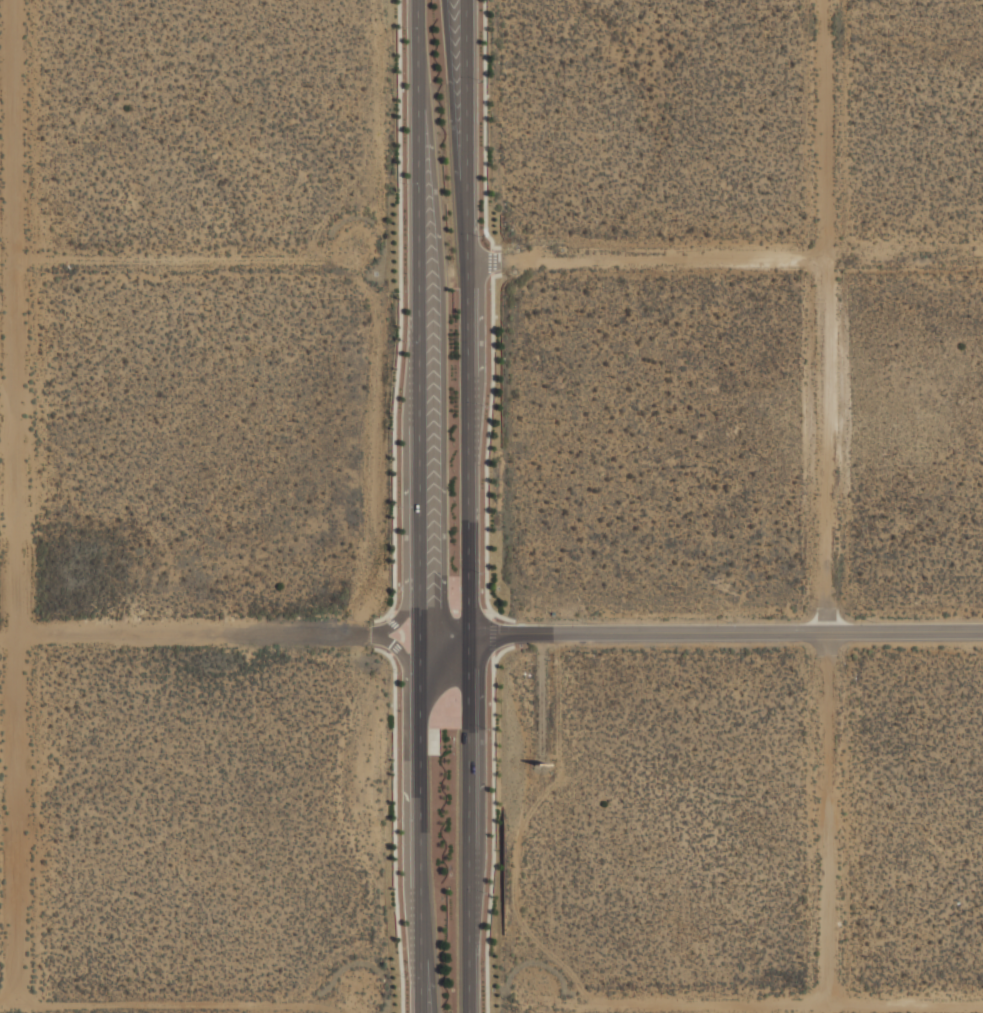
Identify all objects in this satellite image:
road: (485, 128)
road: (469, 131)
road: (492, 248)
road: (492, 260)
road: (481, 263)
road: (492, 272)
road: (400, 315)
road: (419, 316)
road: (442, 357)
road: (471, 447)
road: (486, 450)
road: (17, 479)
road: (405, 484)
road: (486, 608)
road: (423, 609)
road: (455, 609)
road: (471, 609)
road: (393, 610)
road: (493, 614)
road: (387, 616)
road: (394, 622)
road: (377, 632)
road: (447, 632)
road: (728, 632)
road: (402, 633)
road: (184, 634)
road: (492, 634)
road: (396, 646)
road: (390, 652)
road: (492, 658)
road: (406, 820)
road: (423, 822)
road: (471, 822)
road: (394, 823)
road: (493, 824)

